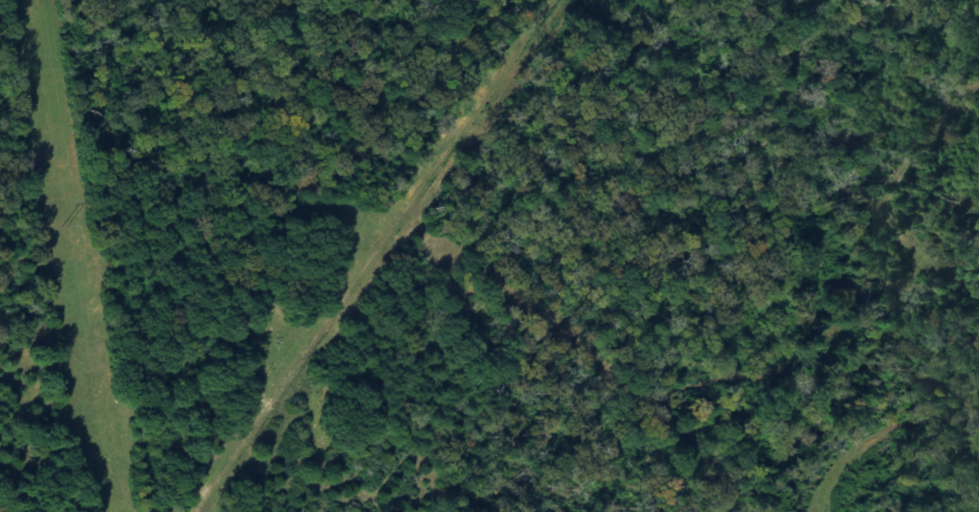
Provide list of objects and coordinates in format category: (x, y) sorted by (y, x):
power tower: (65, 225)

